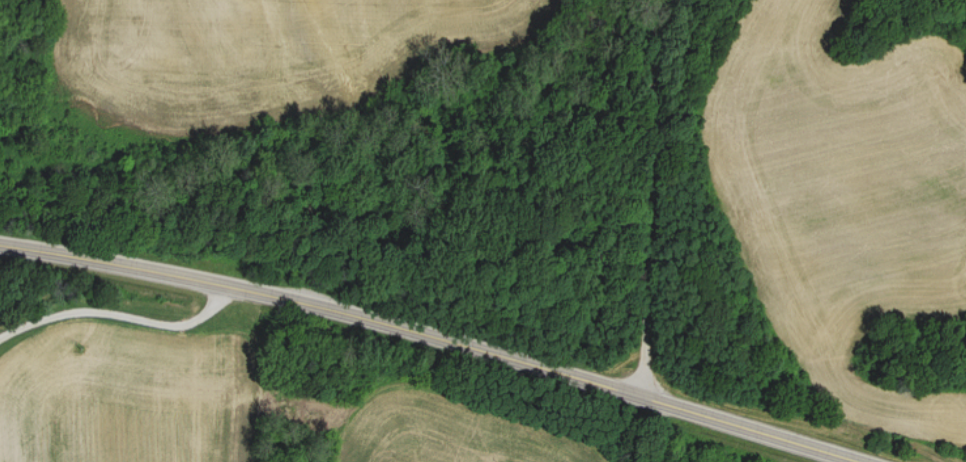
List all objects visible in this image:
road: (650, 201)
road: (427, 333)

